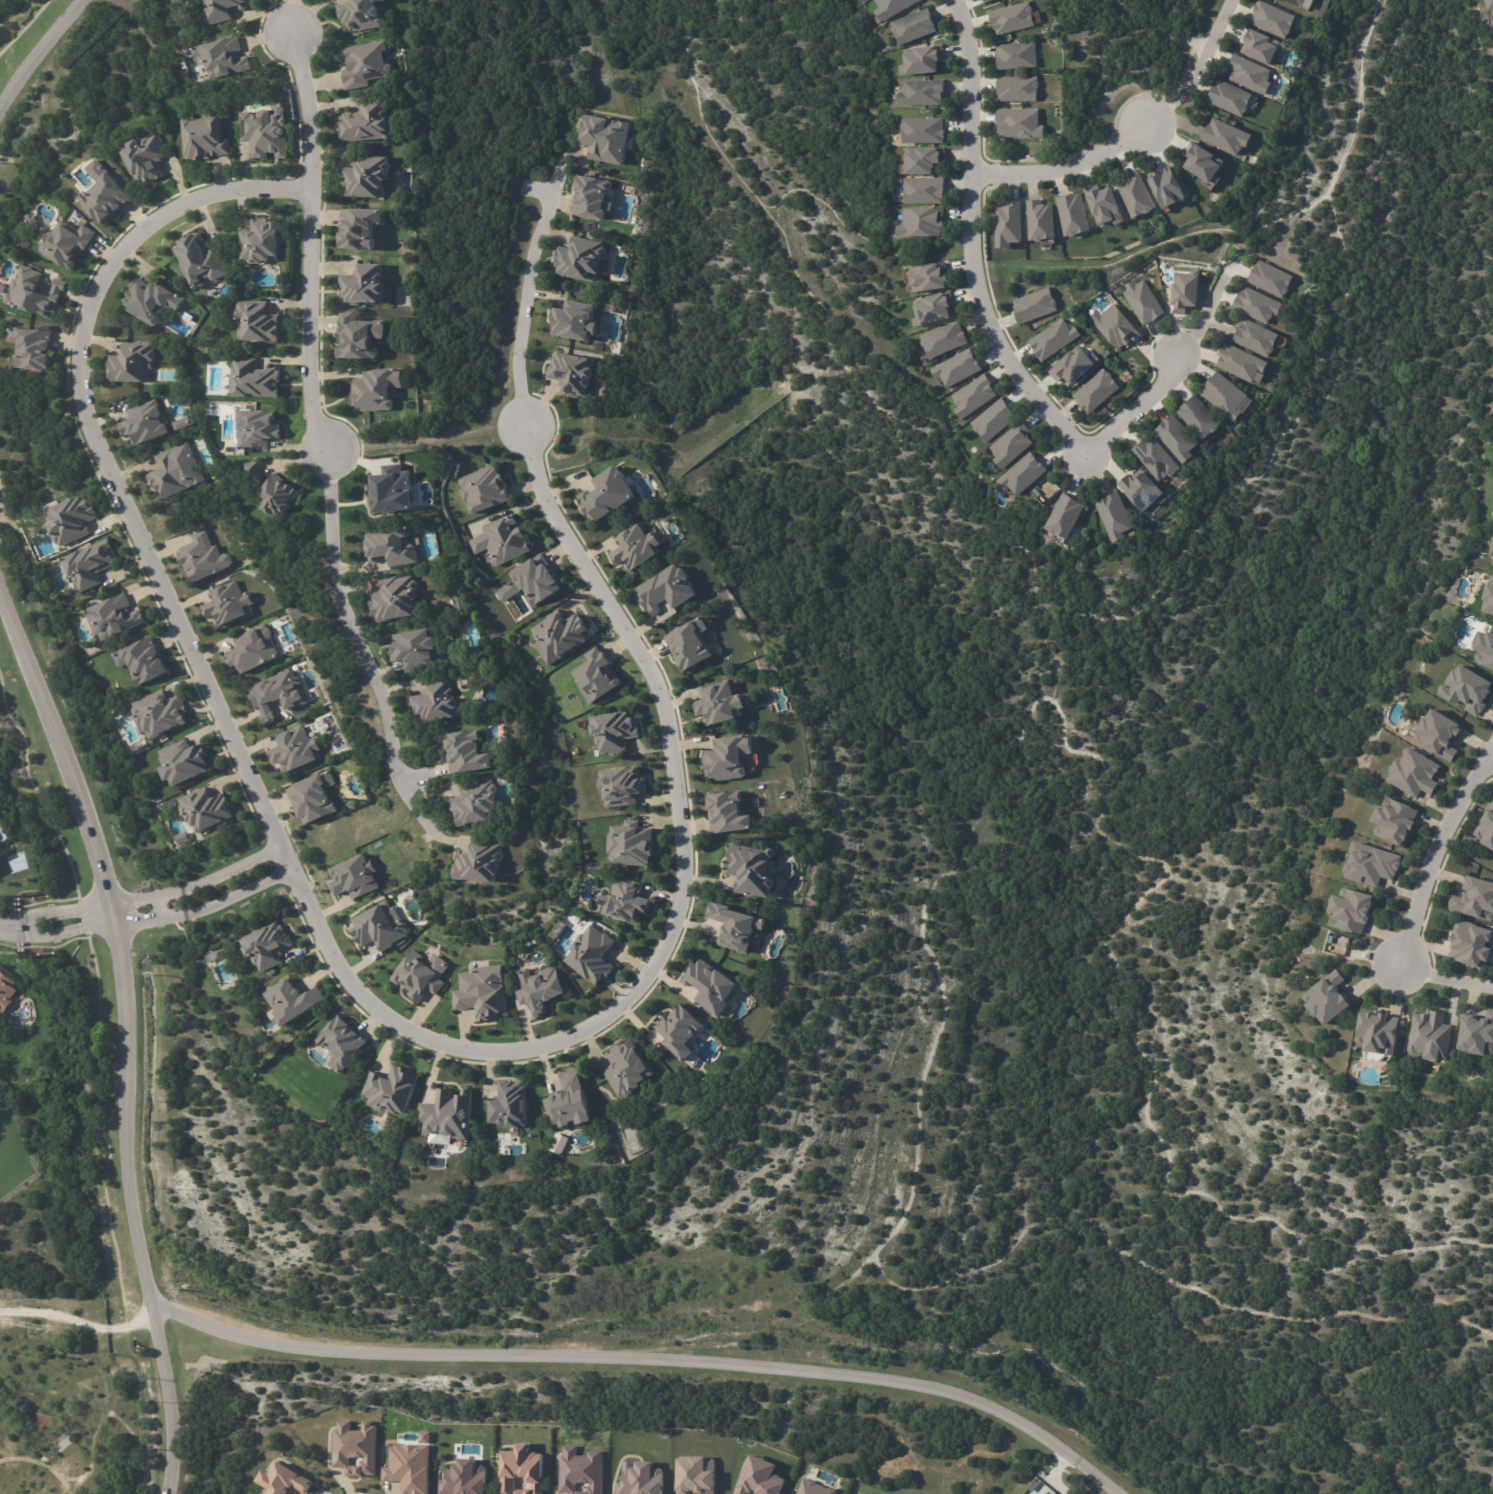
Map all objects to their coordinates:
building: (985, 0)
building: (989, 1)
building: (1294, 2)
building: (1303, 2)
building: (894, 7)
building: (1490, 7)
building: (221, 10)
building: (362, 14)
road: (292, 16)
building: (1271, 17)
building: (1014, 18)
building: (915, 26)
building: (1258, 43)
building: (1018, 55)
building: (223, 58)
building: (924, 61)
road: (45, 62)
building: (362, 62)
road: (1192, 71)
building: (1248, 73)
building: (1019, 89)
building: (924, 93)
building: (1231, 97)
building: (364, 121)
building: (1022, 123)
building: (925, 131)
building: (265, 132)
building: (1229, 137)
building: (203, 138)
building: (604, 138)
building: (145, 158)
building: (926, 160)
building: (1207, 165)
road: (1060, 170)
building: (364, 174)
building: (1167, 187)
building: (922, 189)
building: (1137, 195)
building: (104, 196)
building: (592, 197)
building: (1105, 205)
building: (1075, 215)
building: (920, 221)
building: (1043, 221)
building: (1011, 224)
building: (356, 225)
building: (260, 242)
road: (309, 243)
building: (67, 244)
building: (581, 257)
building: (201, 261)
building: (927, 275)
building: (1273, 279)
building: (363, 285)
building: (35, 293)
road: (524, 293)
building: (1186, 293)
building: (152, 301)
building: (1145, 302)
building: (1032, 304)
building: (1259, 306)
building: (935, 310)
road: (984, 315)
road: (1204, 315)
building: (575, 319)
building: (256, 322)
building: (1117, 327)
building: (1052, 337)
building: (359, 338)
building: (1259, 338)
building: (945, 340)
building: (31, 348)
building: (1244, 363)
building: (132, 364)
building: (1072, 364)
building: (958, 368)
building: (570, 369)
building: (253, 380)
building: (376, 391)
building: (1098, 392)
building: (1225, 395)
building: (975, 397)
building: (68, 412)
building: (1193, 414)
building: (996, 421)
building: (145, 424)
building: (253, 426)
building: (557, 437)
building: (1176, 437)
building: (1013, 444)
building: (1153, 456)
building: (177, 472)
building: (253, 473)
building: (1024, 475)
building: (482, 488)
building: (1141, 489)
building: (393, 491)
building: (1046, 491)
building: (605, 494)
building: (278, 498)
building: (1114, 514)
building: (1064, 516)
building: (71, 521)
building: (499, 539)
building: (390, 544)
building: (635, 547)
building: (1491, 555)
building: (203, 557)
building: (90, 565)
building: (537, 579)
building: (669, 587)
building: (1489, 596)
building: (395, 600)
building: (229, 605)
building: (114, 619)
building: (560, 635)
road: (353, 641)
building: (691, 642)
building: (253, 649)
building: (414, 651)
building: (1485, 651)
building: (142, 663)
building: (597, 675)
building: (1466, 689)
building: (278, 696)
building: (437, 703)
building: (721, 703)
building: (160, 715)
building: (614, 731)
building: (1439, 735)
building: (294, 749)
building: (467, 755)
building: (726, 757)
road: (1491, 758)
building: (183, 762)
building: (1415, 773)
building: (622, 785)
building: (313, 797)
building: (476, 805)
building: (205, 809)
building: (729, 812)
building: (1397, 823)
building: (1487, 831)
building: (631, 844)
road: (1437, 856)
building: (1371, 866)
building: (482, 867)
building: (750, 869)
building: (354, 876)
building: (624, 901)
building: (1476, 902)
road: (145, 909)
building: (1351, 910)
building: (380, 926)
building: (737, 926)
building: (1339, 942)
building: (268, 946)
building: (1472, 946)
road: (332, 954)
building: (590, 954)
building: (420, 975)
road: (1445, 977)
building: (712, 986)
building: (538, 989)
building: (6, 992)
building: (482, 992)
building: (1330, 1000)
building: (292, 1001)
road: (124, 1021)
building: (681, 1031)
building: (1381, 1034)
building: (1478, 1036)
building: (1431, 1038)
building: (342, 1043)
building: (627, 1069)
building: (391, 1090)
building: (568, 1100)
building: (509, 1105)
building: (448, 1114)
building: (438, 1138)
building: (557, 1143)
road: (650, 1359)
building: (354, 1448)
building: (408, 1467)
building: (521, 1471)
building: (580, 1471)
building: (695, 1475)
building: (759, 1477)
building: (463, 1478)
building: (640, 1478)
building: (284, 1481)
building: (812, 1488)

